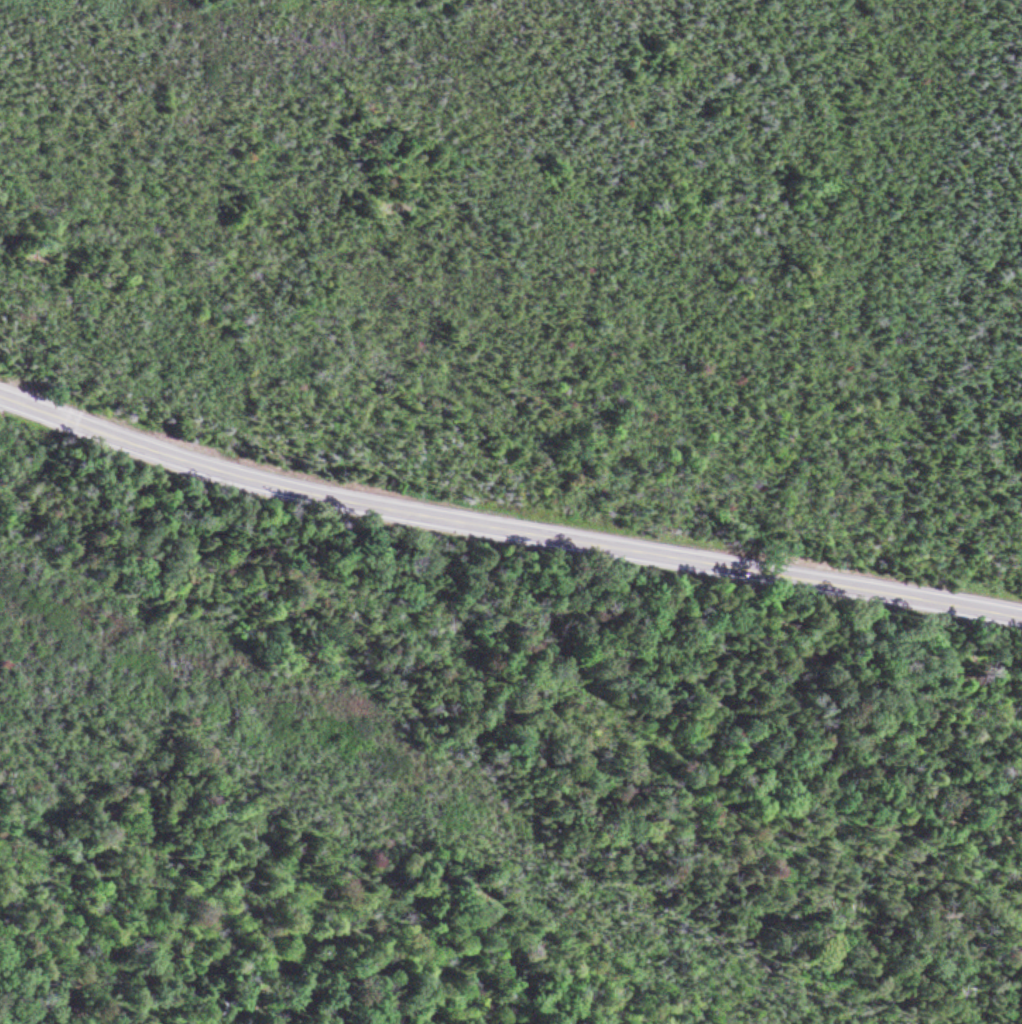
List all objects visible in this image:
road: (505, 530)

